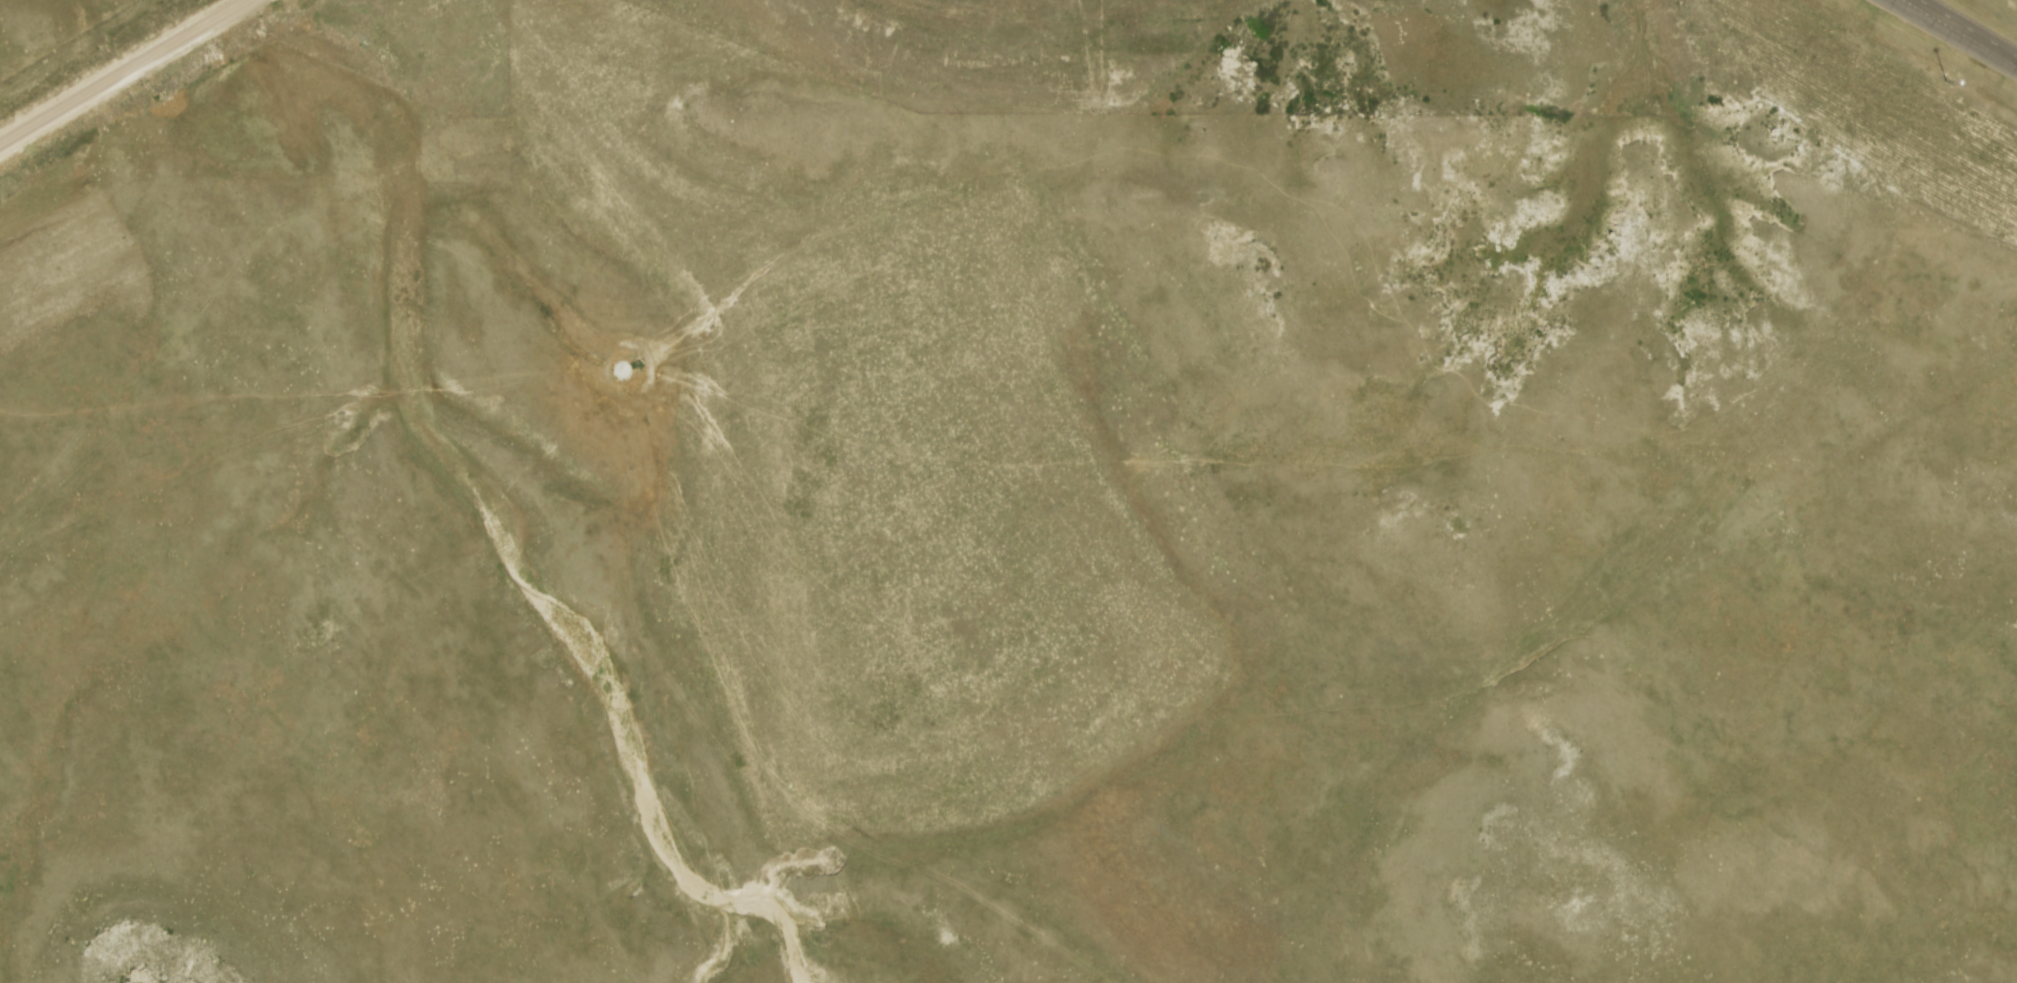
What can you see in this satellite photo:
road: (1931, 10)
road: (1970, 27)
road: (125, 74)

